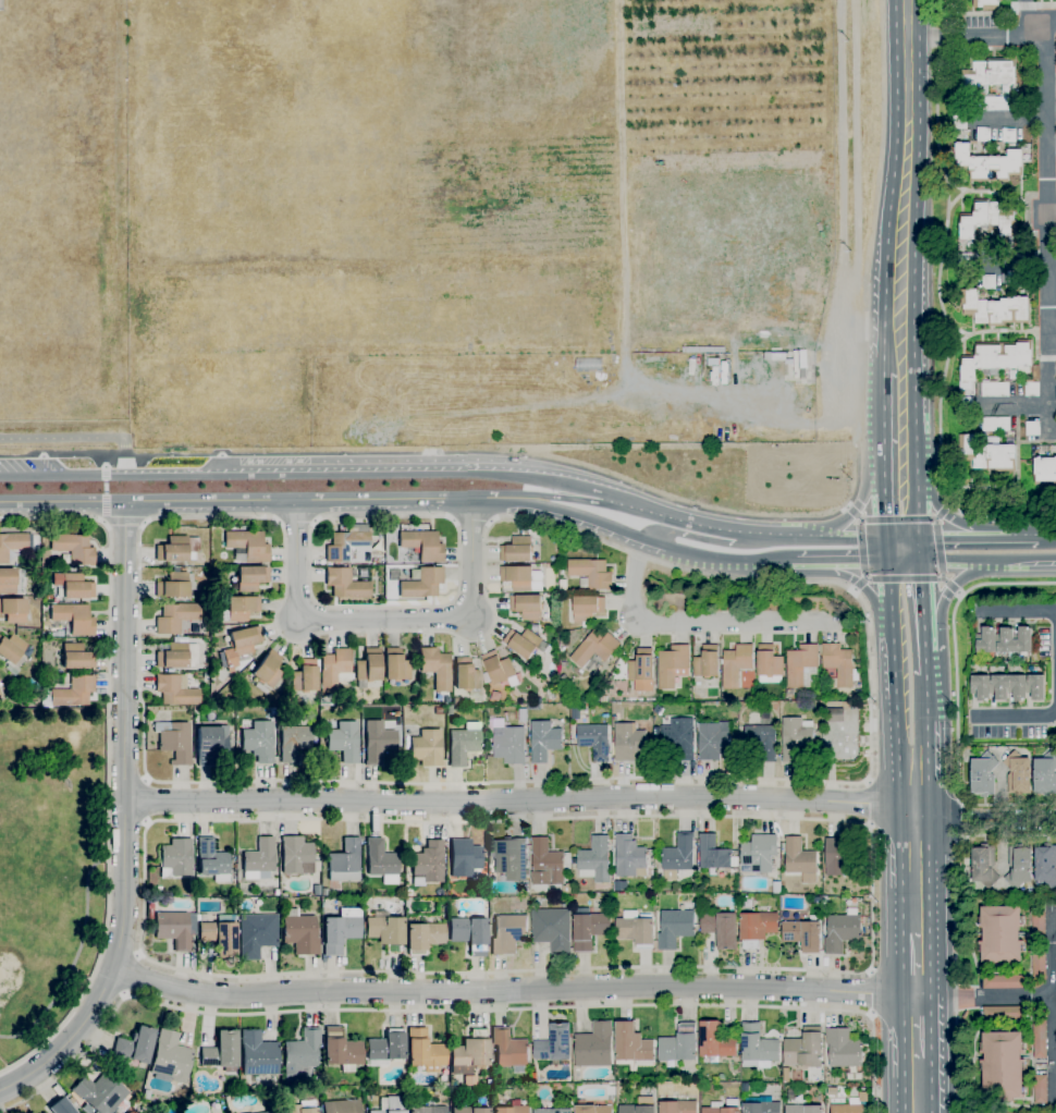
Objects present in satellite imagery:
building: (985, 4)
road: (1028, 13)
road: (945, 16)
road: (983, 36)
road: (934, 37)
building: (989, 75)
building: (995, 102)
road: (1015, 119)
building: (983, 134)
building: (1008, 135)
road: (1051, 146)
road: (905, 163)
building: (990, 163)
road: (1046, 182)
crop: (472, 221)
park: (437, 222)
building: (984, 223)
building: (963, 258)
road: (848, 282)
building: (987, 282)
building: (995, 308)
road: (851, 326)
road: (962, 332)
road: (1052, 347)
road: (898, 351)
building: (768, 356)
building: (996, 359)
building: (1019, 379)
building: (1031, 388)
building: (995, 389)
road: (1046, 393)
building: (965, 403)
road: (1016, 407)
road: (899, 421)
building: (996, 425)
building: (1032, 428)
road: (78, 440)
road: (462, 452)
building: (987, 453)
road: (105, 461)
building: (1045, 469)
road: (397, 470)
road: (52, 474)
road: (863, 490)
road: (105, 493)
road: (564, 499)
road: (918, 499)
road: (893, 502)
road: (256, 503)
road: (439, 514)
road: (470, 518)
road: (102, 521)
road: (121, 521)
road: (142, 522)
road: (953, 522)
road: (707, 528)
road: (662, 531)
road: (768, 534)
road: (1046, 534)
road: (942, 535)
road: (1017, 535)
road: (846, 536)
building: (33, 538)
building: (12, 543)
building: (245, 543)
building: (348, 545)
building: (421, 545)
building: (73, 547)
road: (654, 547)
building: (177, 548)
building: (517, 550)
road: (887, 551)
road: (919, 551)
road: (845, 566)
road: (902, 566)
road: (987, 566)
building: (591, 574)
building: (250, 577)
building: (521, 578)
building: (11, 580)
road: (781, 582)
building: (346, 583)
building: (422, 583)
building: (73, 584)
building: (173, 585)
road: (862, 588)
road: (947, 596)
road: (921, 606)
building: (241, 607)
building: (527, 607)
road: (888, 607)
building: (13, 609)
building: (587, 609)
road: (1017, 612)
building: (175, 616)
building: (74, 617)
road: (386, 619)
road: (691, 625)
building: (1004, 640)
building: (1022, 640)
building: (985, 641)
building: (524, 643)
building: (240, 646)
building: (12, 648)
building: (594, 648)
building: (177, 655)
building: (76, 656)
building: (707, 662)
building: (395, 664)
building: (736, 664)
building: (769, 664)
building: (837, 664)
building: (673, 665)
building: (801, 665)
building: (251, 666)
building: (368, 666)
building: (437, 668)
building: (499, 668)
building: (10, 669)
building: (334, 669)
building: (642, 670)
building: (267, 671)
building: (305, 675)
road: (892, 675)
building: (466, 676)
building: (999, 686)
building: (1035, 686)
building: (982, 687)
building: (1018, 687)
building: (175, 690)
building: (552, 690)
building: (73, 692)
building: (790, 693)
building: (858, 693)
road: (955, 695)
building: (456, 699)
building: (439, 710)
building: (449, 710)
building: (835, 714)
road: (1014, 717)
building: (614, 719)
road: (894, 724)
road: (928, 724)
building: (679, 737)
building: (796, 737)
building: (175, 741)
building: (259, 741)
building: (344, 741)
building: (544, 741)
building: (594, 741)
building: (762, 741)
building: (294, 742)
building: (378, 742)
building: (628, 742)
building: (712, 742)
building: (464, 743)
building: (211, 744)
building: (427, 746)
building: (509, 746)
road: (109, 763)
building: (1018, 772)
building: (983, 773)
road: (902, 774)
building: (1045, 775)
road: (147, 800)
road: (517, 800)
road: (867, 803)
road: (123, 821)
road: (984, 824)
road: (912, 837)
road: (868, 839)
building: (760, 853)
building: (714, 854)
building: (296, 855)
building: (678, 856)
building: (839, 856)
building: (630, 857)
building: (175, 858)
building: (465, 858)
building: (511, 858)
building: (212, 859)
building: (344, 860)
building: (381, 860)
building: (595, 860)
building: (800, 860)
building: (257, 861)
building: (429, 861)
building: (548, 864)
building: (1045, 865)
building: (1019, 867)
building: (983, 868)
building: (159, 888)
building: (776, 888)
building: (316, 889)
building: (324, 891)
building: (597, 896)
building: (818, 901)
building: (198, 917)
building: (1039, 926)
building: (589, 928)
building: (675, 928)
building: (757, 928)
road: (955, 928)
building: (173, 929)
building: (384, 929)
building: (636, 929)
building: (721, 929)
building: (552, 930)
building: (843, 931)
building: (299, 932)
building: (339, 932)
building: (256, 933)
building: (469, 933)
building: (508, 933)
road: (912, 933)
building: (220, 934)
building: (1000, 934)
building: (423, 935)
building: (803, 935)
building: (1039, 963)
road: (134, 975)
building: (1003, 982)
road: (511, 990)
road: (869, 993)
road: (983, 995)
road: (458, 1008)
road: (1055, 1010)
building: (1004, 1013)
building: (396, 1020)
building: (1040, 1037)
building: (715, 1041)
building: (631, 1043)
building: (135, 1044)
building: (555, 1044)
building: (679, 1044)
building: (594, 1045)
building: (759, 1045)
building: (385, 1048)
building: (805, 1049)
building: (844, 1049)
building: (342, 1050)
building: (423, 1050)
building: (509, 1050)
building: (221, 1051)
building: (469, 1053)
building: (258, 1054)
building: (300, 1054)
road: (912, 1054)
building: (170, 1057)
building: (1003, 1066)
building: (316, 1080)
building: (469, 1083)
building: (445, 1084)
building: (1040, 1089)
building: (832, 1091)
building: (100, 1092)
building: (146, 1093)
building: (390, 1104)
building: (716, 1104)
building: (341, 1105)
building: (761, 1105)
building: (61, 1106)
building: (678, 1106)
building: (298, 1108)
building: (428, 1109)
building: (593, 1109)
building: (635, 1109)
building: (805, 1109)
building: (847, 1109)
building: (468, 1110)
building: (512, 1110)
building: (267, 1111)
building: (553, 1111)

